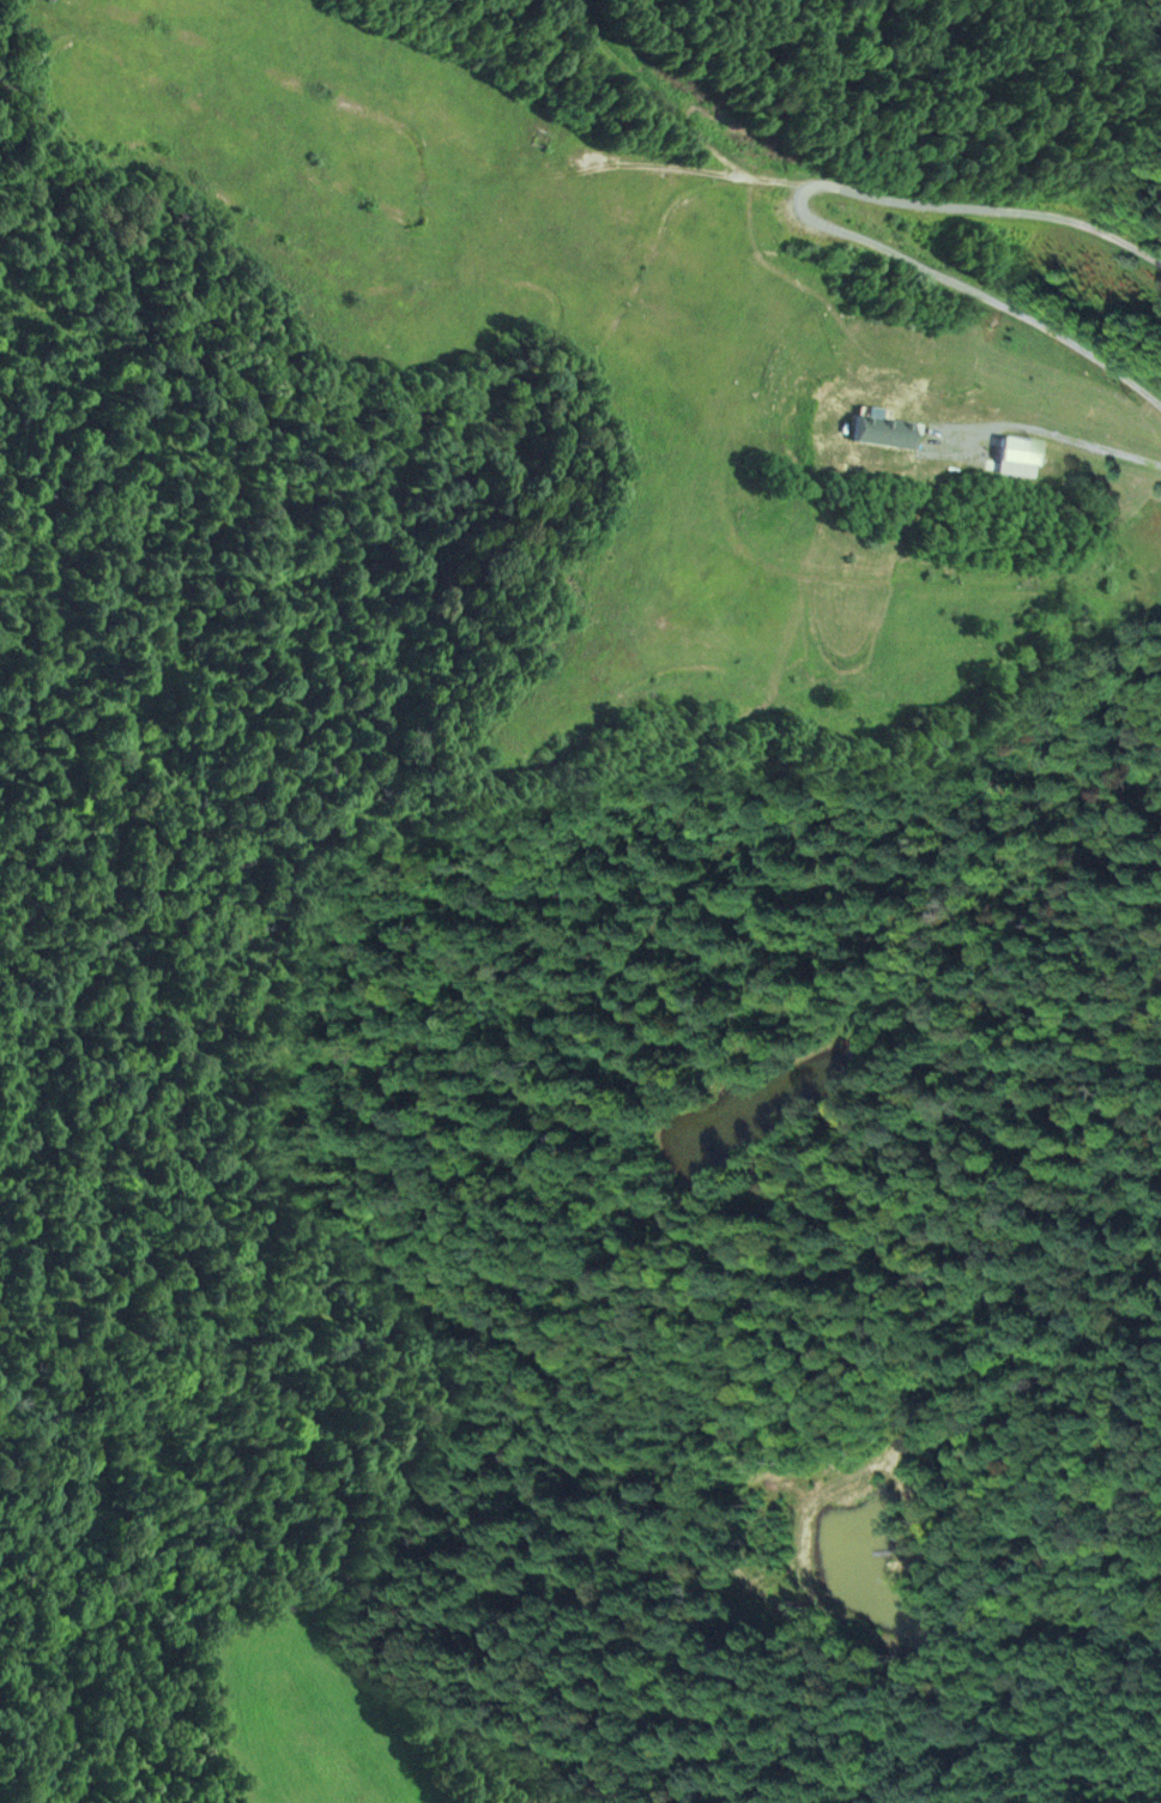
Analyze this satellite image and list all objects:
building: (1008, 451)

